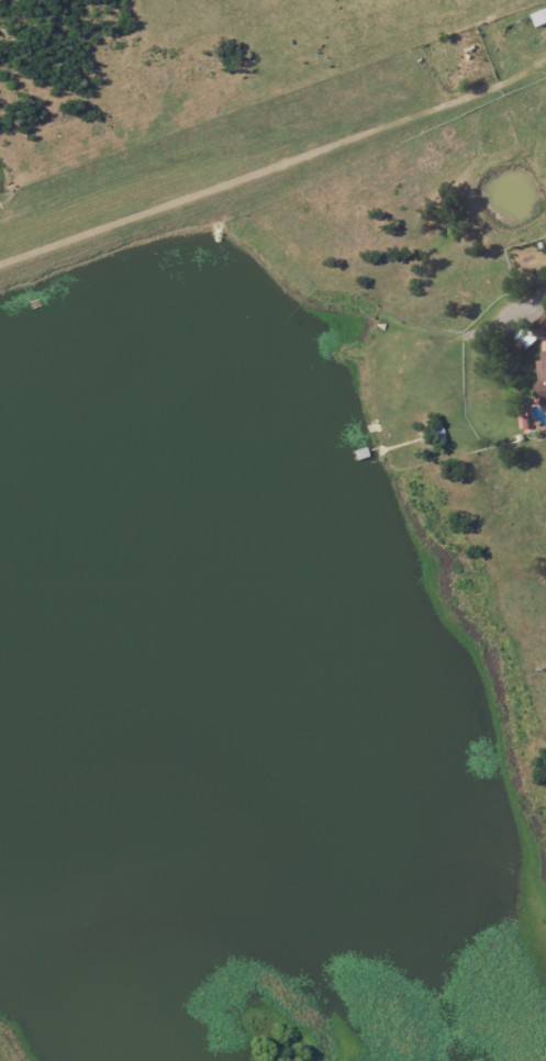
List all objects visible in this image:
building: (539, 18)
dam: (254, 198)
road: (526, 298)

